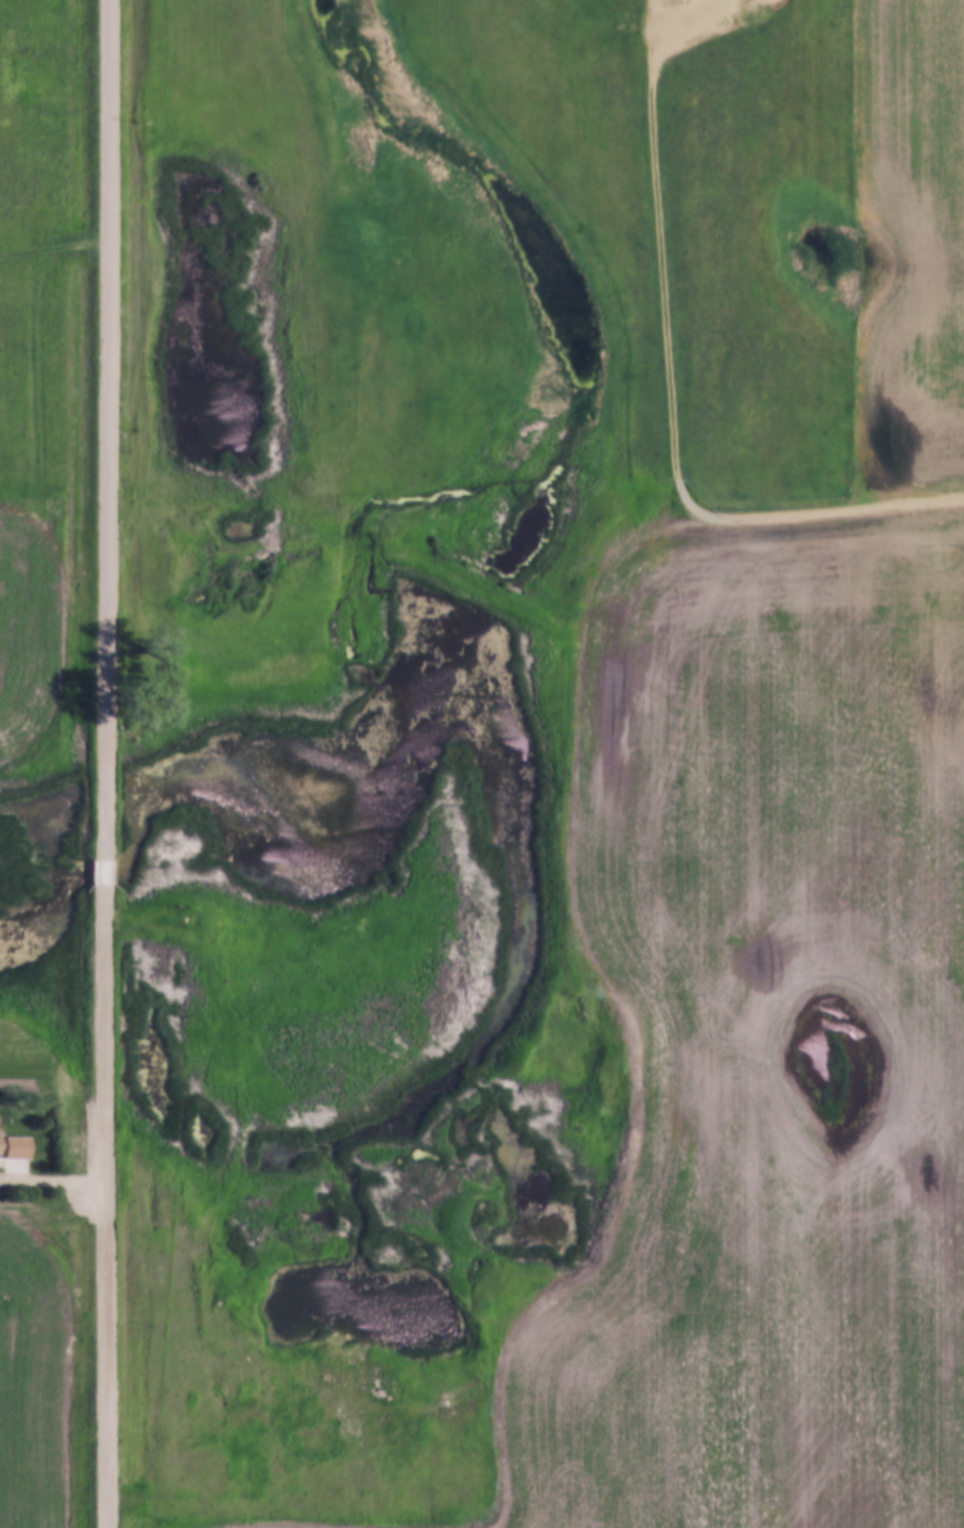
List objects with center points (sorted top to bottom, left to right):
road: (54, 247)
road: (672, 378)
road: (105, 764)
building: (16, 1145)
road: (51, 1176)

